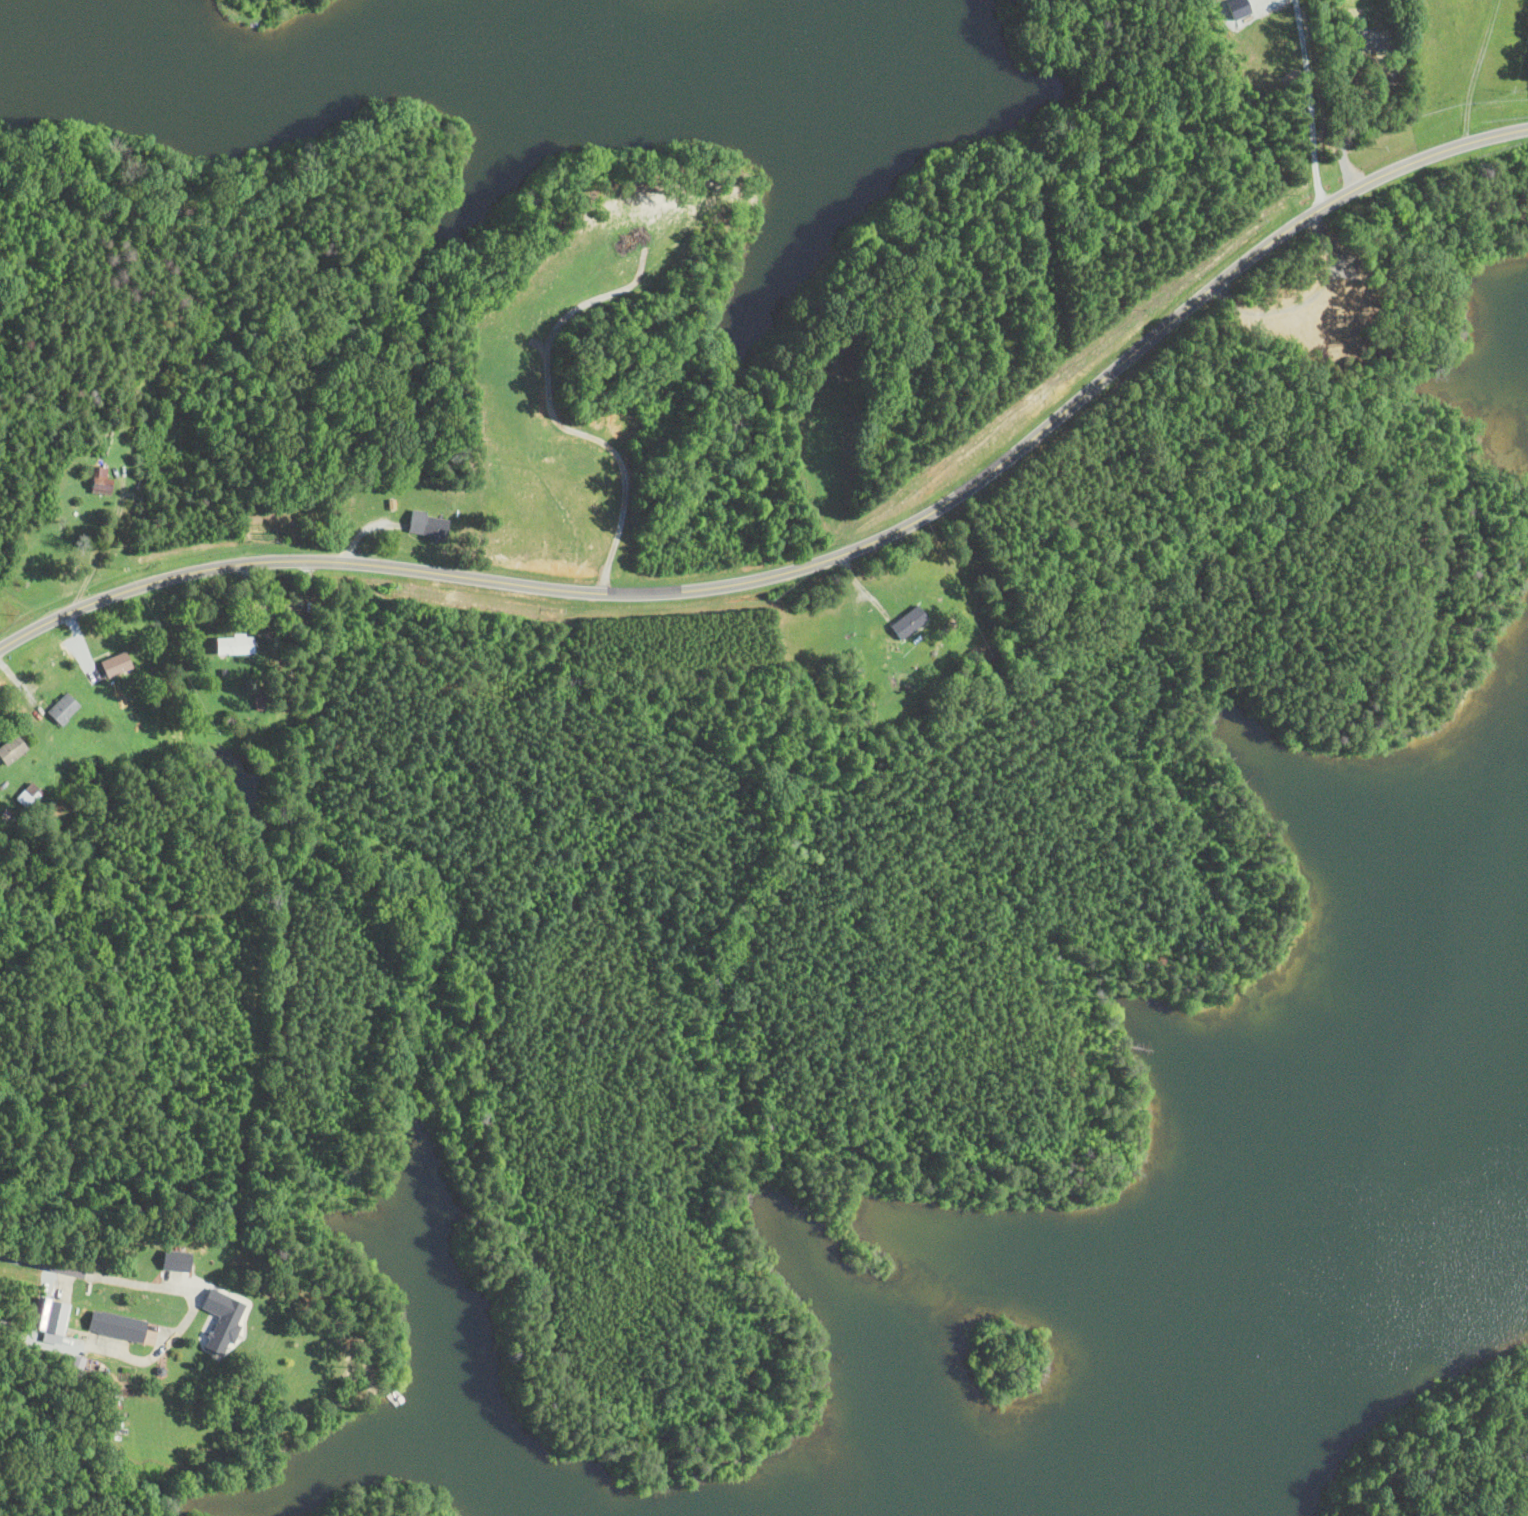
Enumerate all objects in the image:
road: (1306, 104)
building: (101, 482)
road: (619, 512)
building: (430, 526)
road: (819, 564)
building: (910, 622)
building: (235, 646)
building: (118, 666)
building: (260, 702)
building: (65, 709)
building: (14, 750)
building: (29, 795)
building: (176, 1261)
building: (56, 1322)
building: (228, 1326)
building: (120, 1327)

